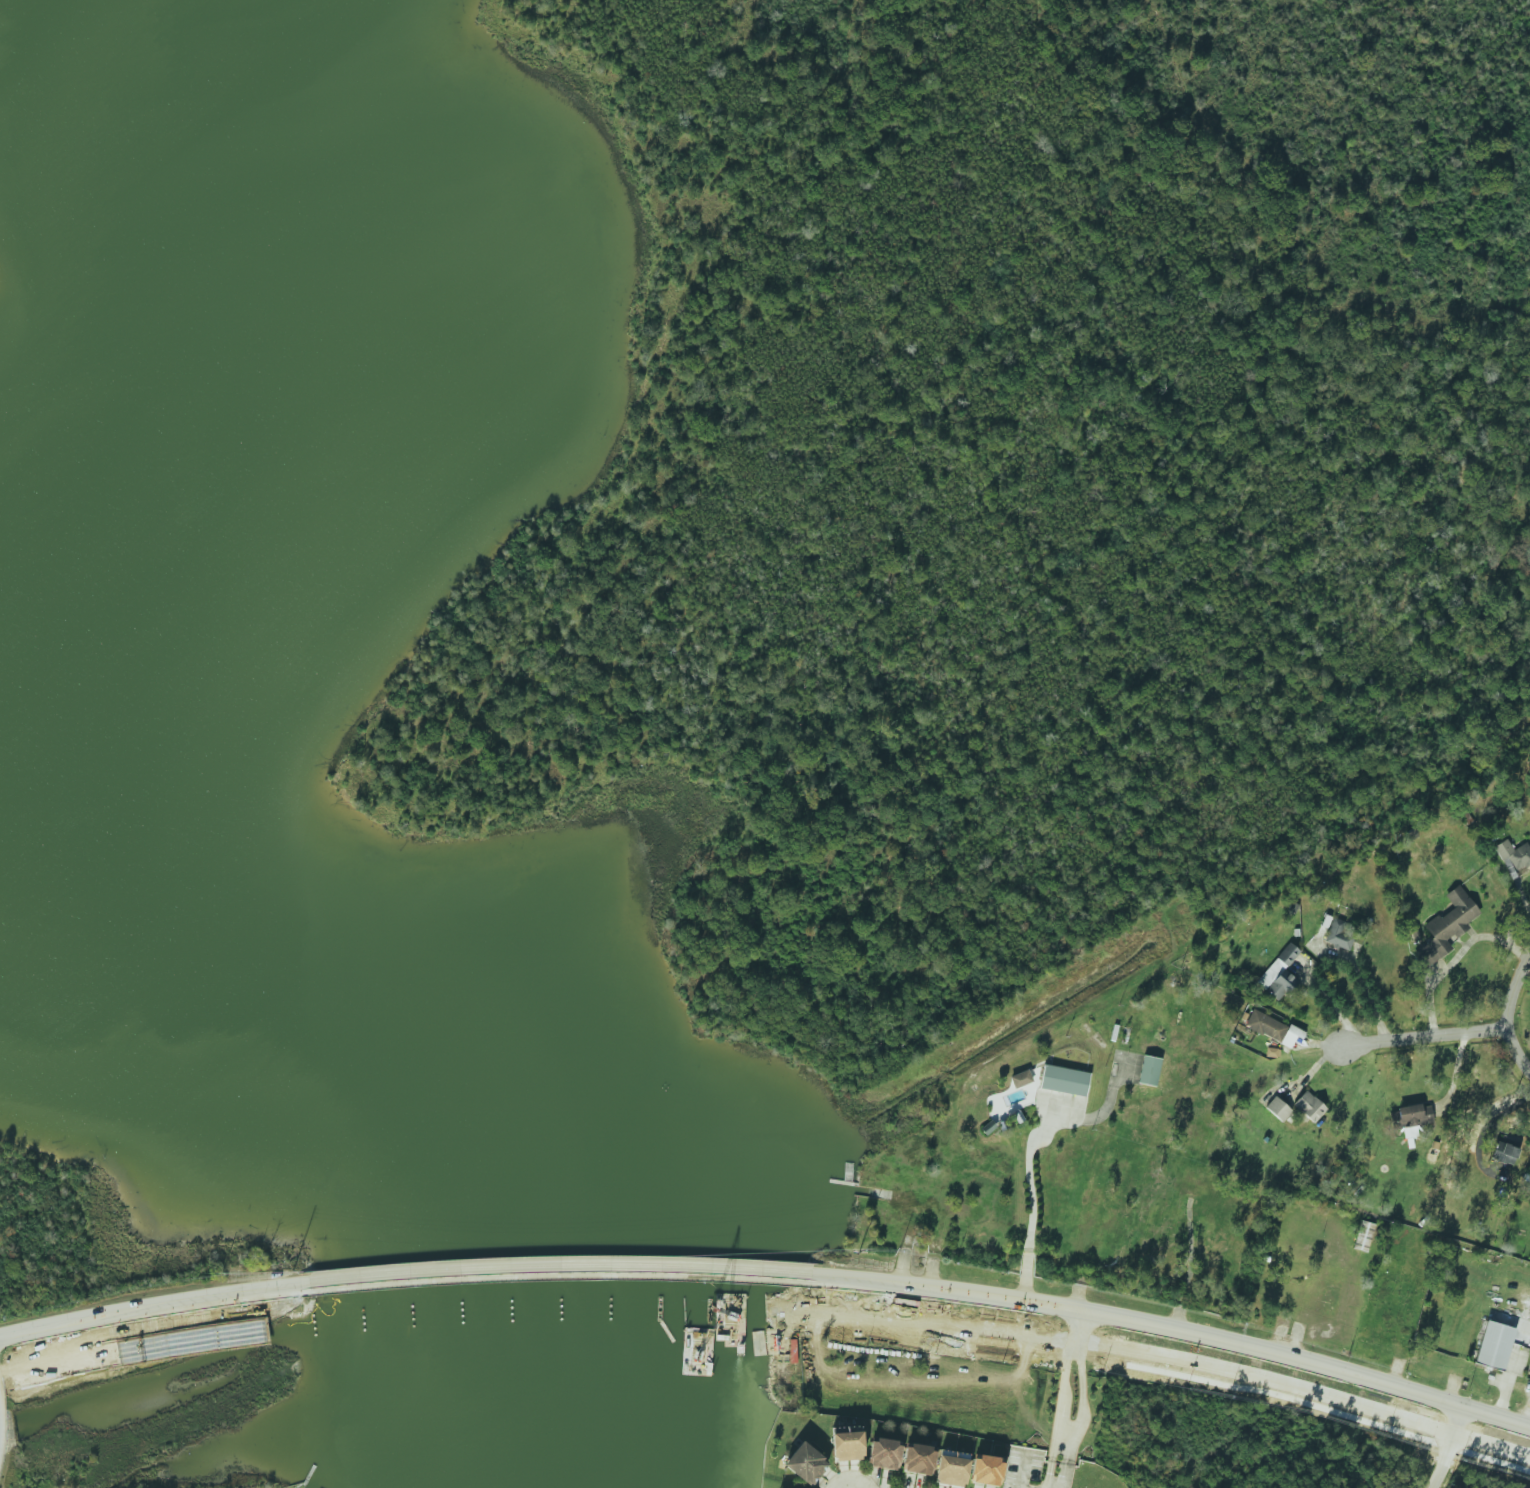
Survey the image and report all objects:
building: (1513, 855)
building: (1446, 927)
building: (1340, 935)
road: (1454, 958)
building: (1283, 975)
road: (1358, 982)
road: (1330, 1005)
road: (1512, 1013)
building: (1272, 1028)
road: (1423, 1037)
building: (1149, 1070)
building: (1020, 1078)
building: (1064, 1080)
building: (1309, 1106)
building: (1278, 1108)
building: (1407, 1116)
building: (1506, 1154)
road: (1029, 1167)
building: (1363, 1235)
road: (536, 1268)
road: (160, 1305)
road: (565, 1309)
road: (1175, 1329)
road: (30, 1332)
building: (1494, 1345)
road: (135, 1349)
road: (1199, 1363)
road: (1067, 1400)
building: (848, 1446)
road: (1447, 1448)
building: (884, 1454)
building: (918, 1459)
building: (805, 1463)
building: (986, 1470)
building: (951, 1471)

